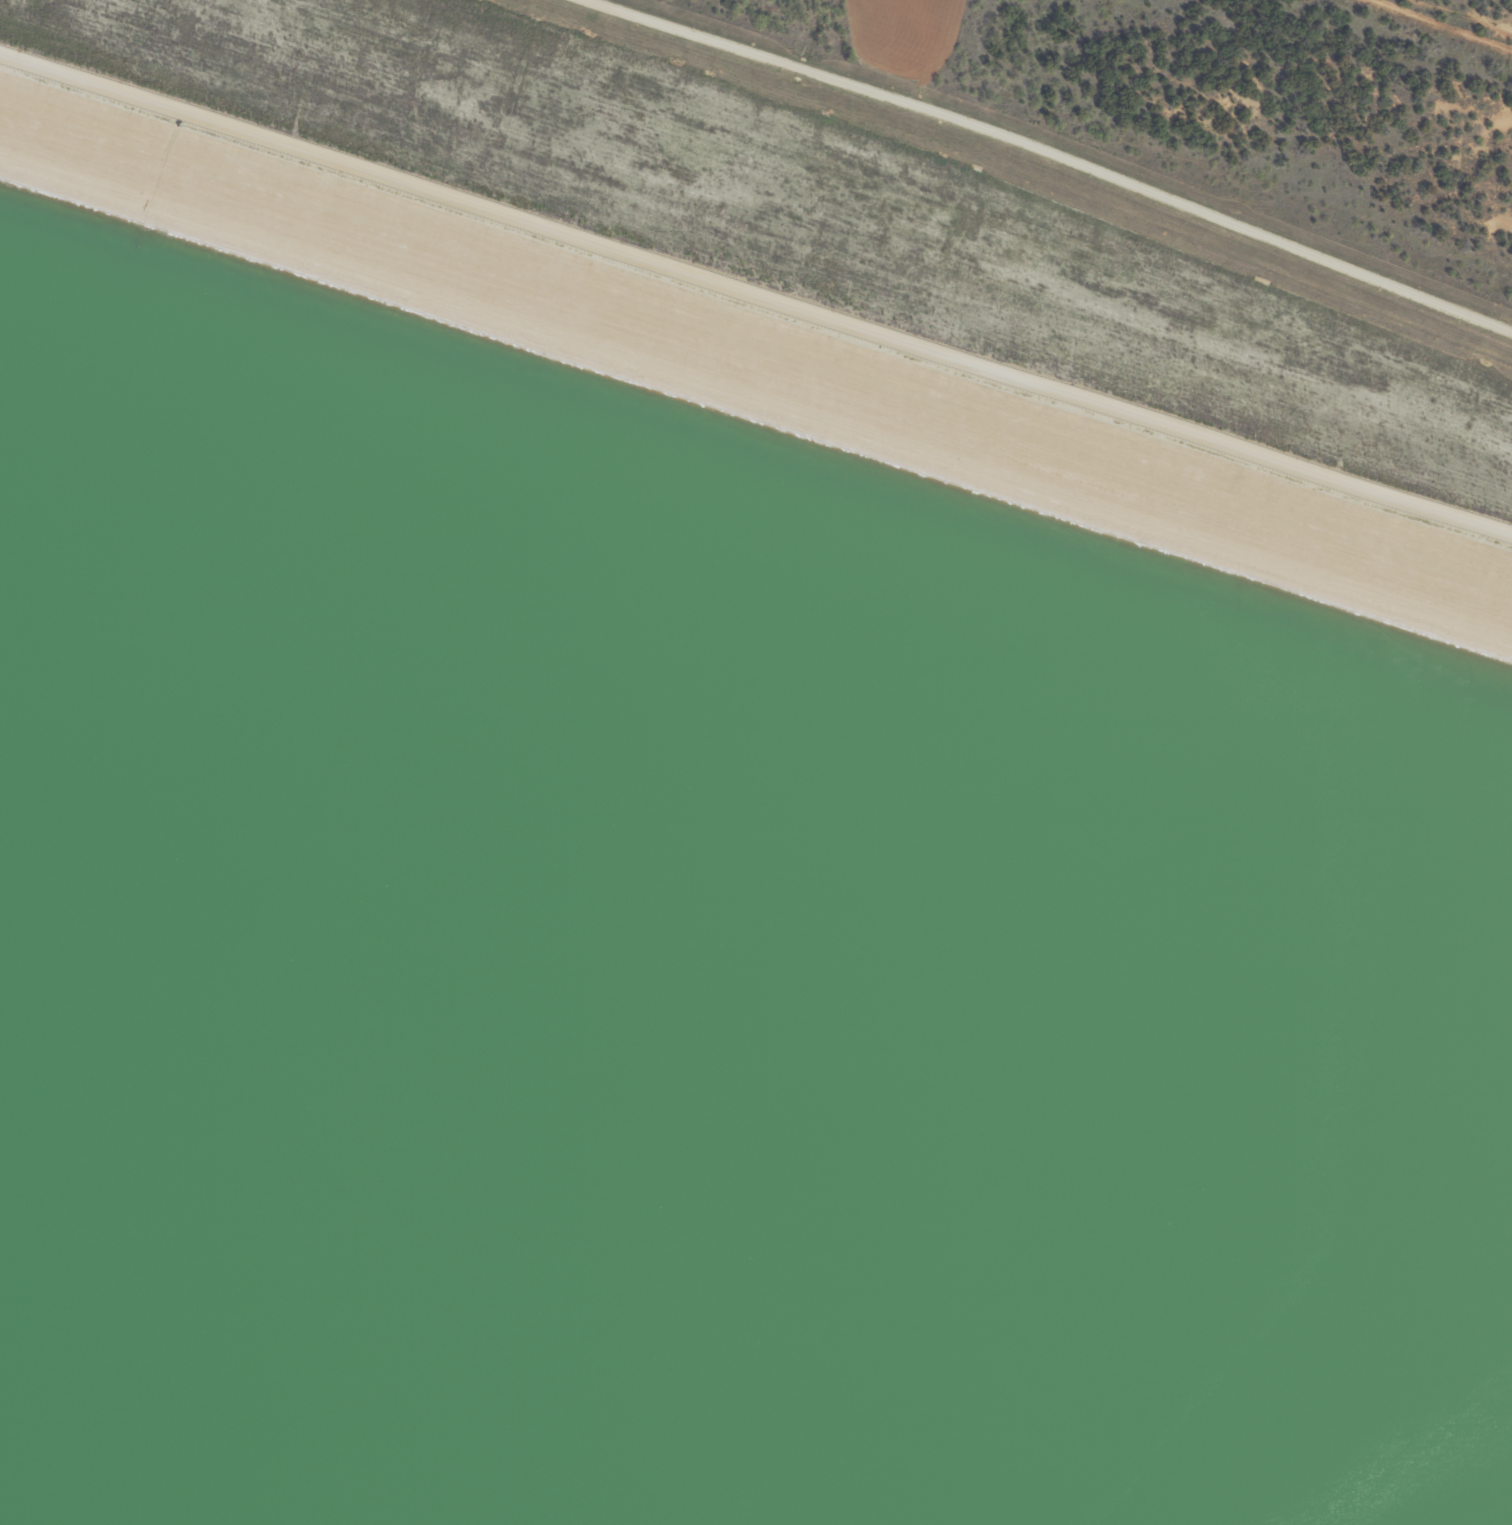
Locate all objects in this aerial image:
road: (1054, 142)
road: (755, 298)

